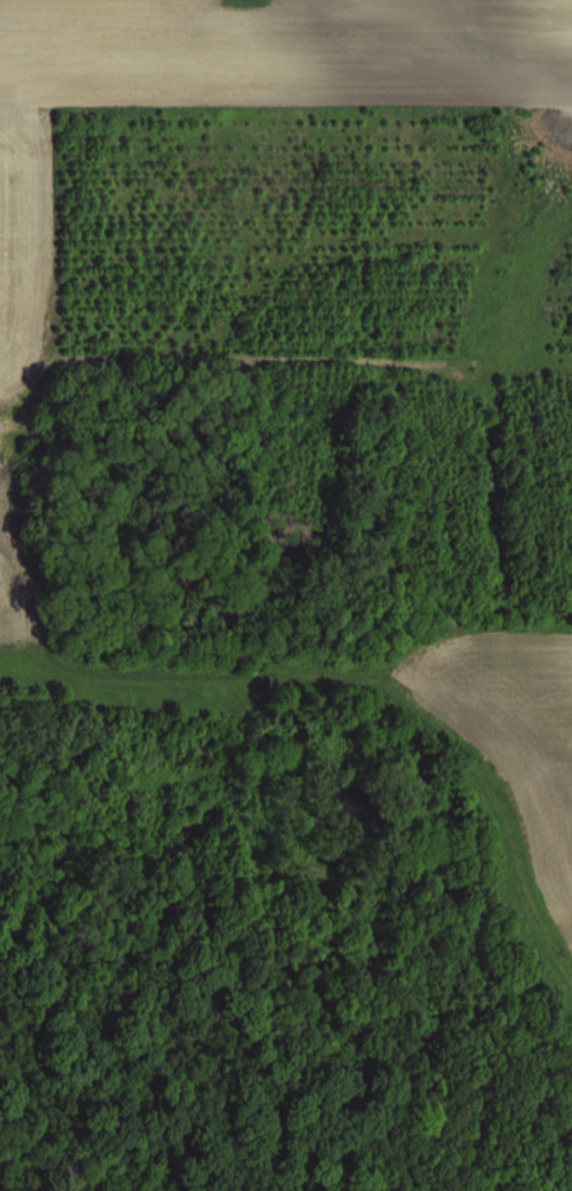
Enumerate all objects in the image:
crop: (286, 595)

